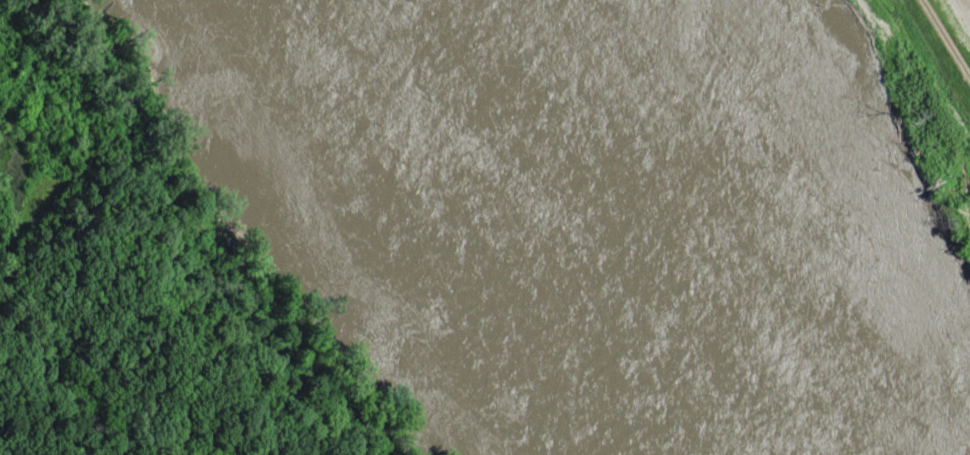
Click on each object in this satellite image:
road: (946, 37)
river: (719, 227)

